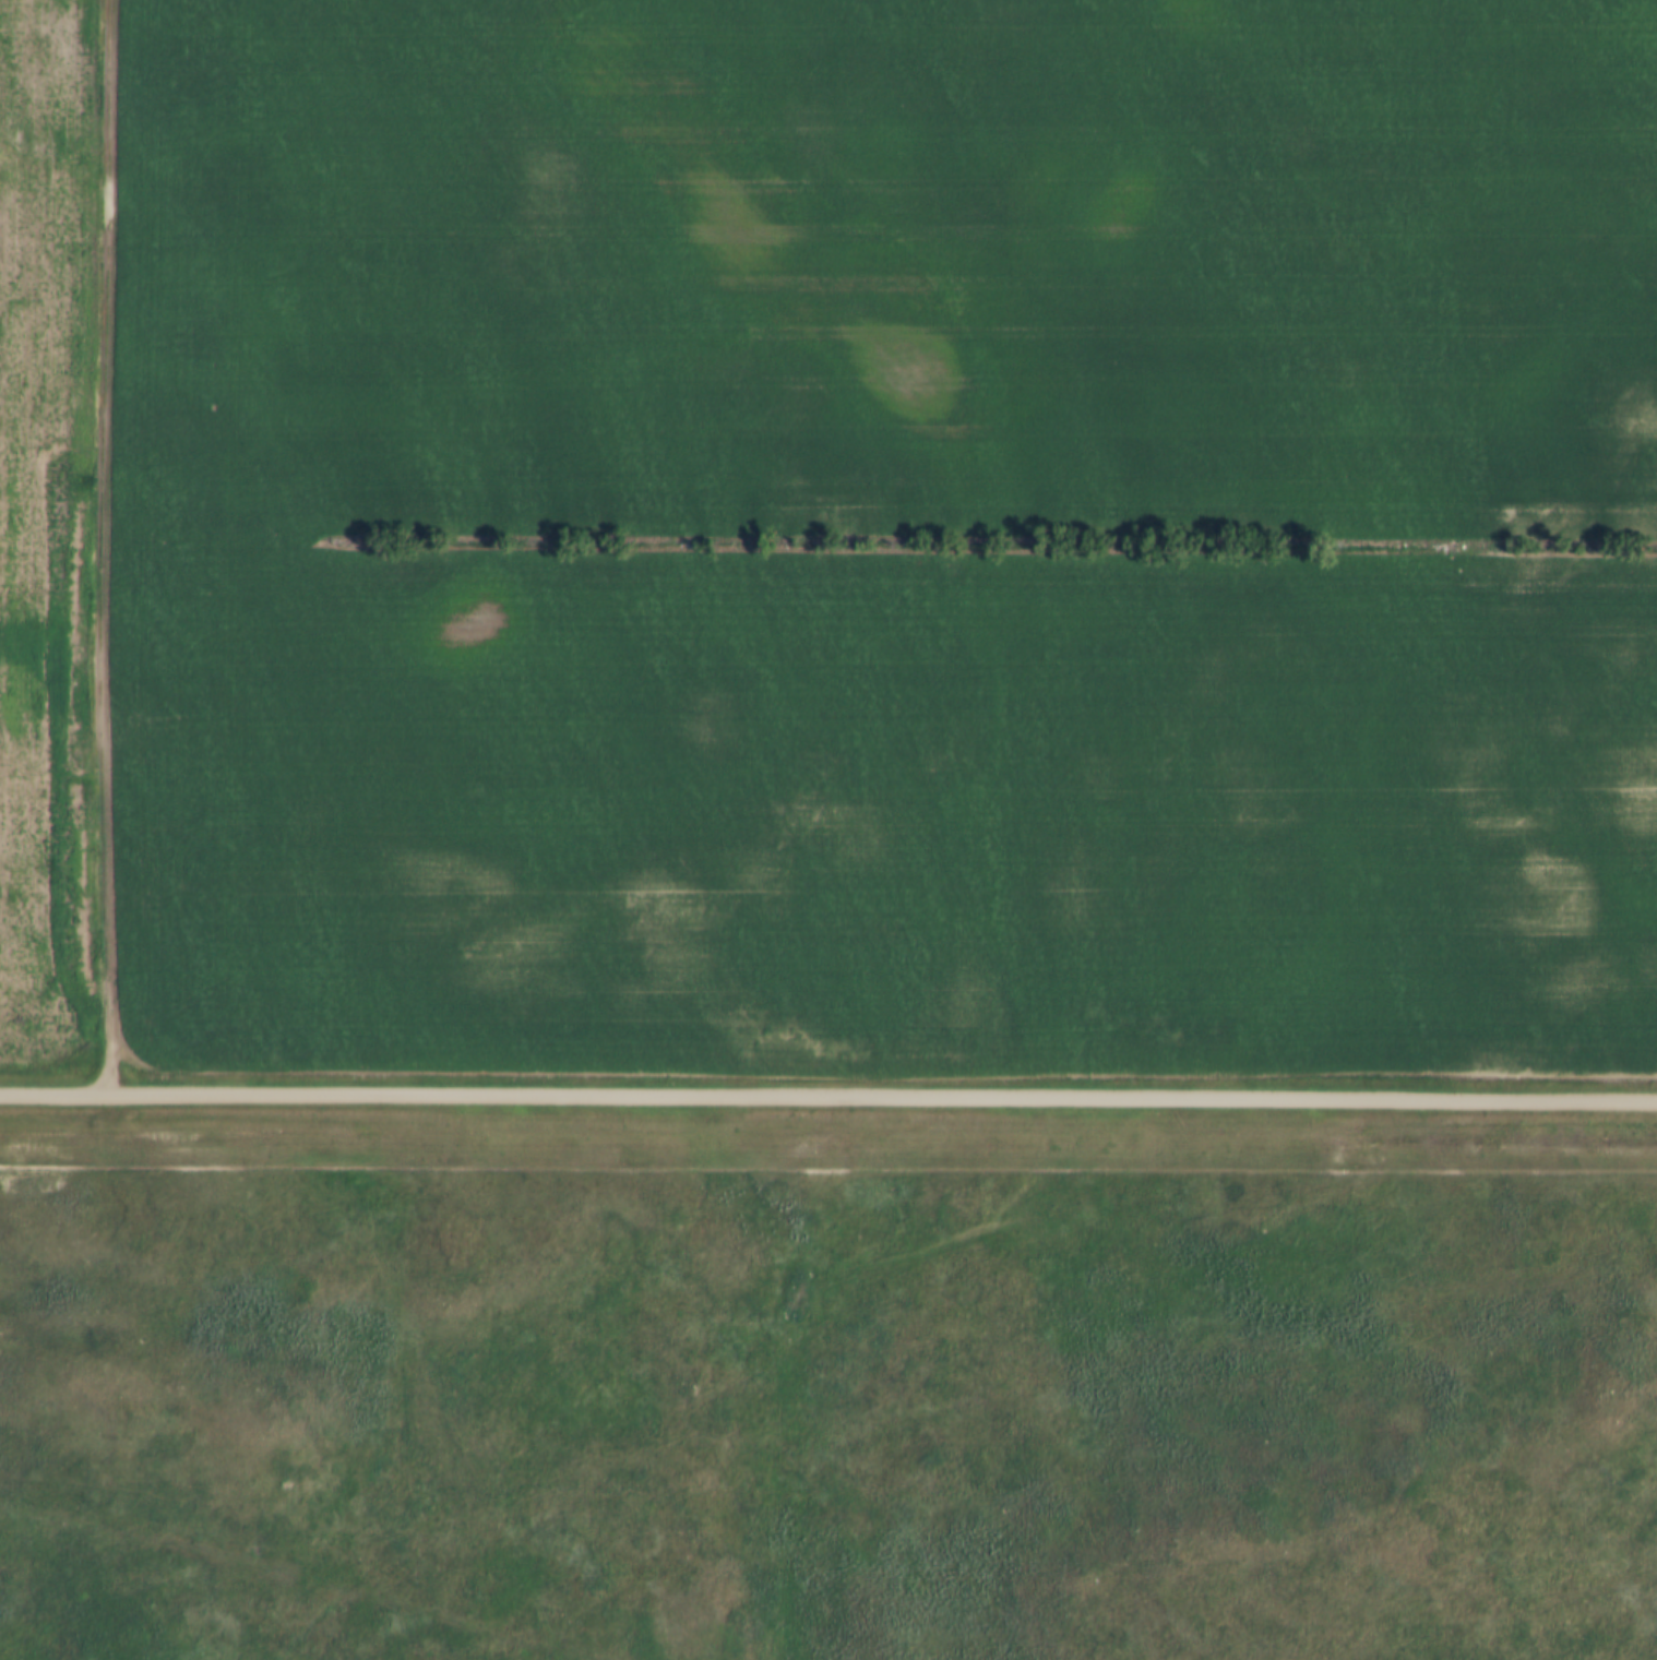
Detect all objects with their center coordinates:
road: (99, 548)
road: (828, 1098)

